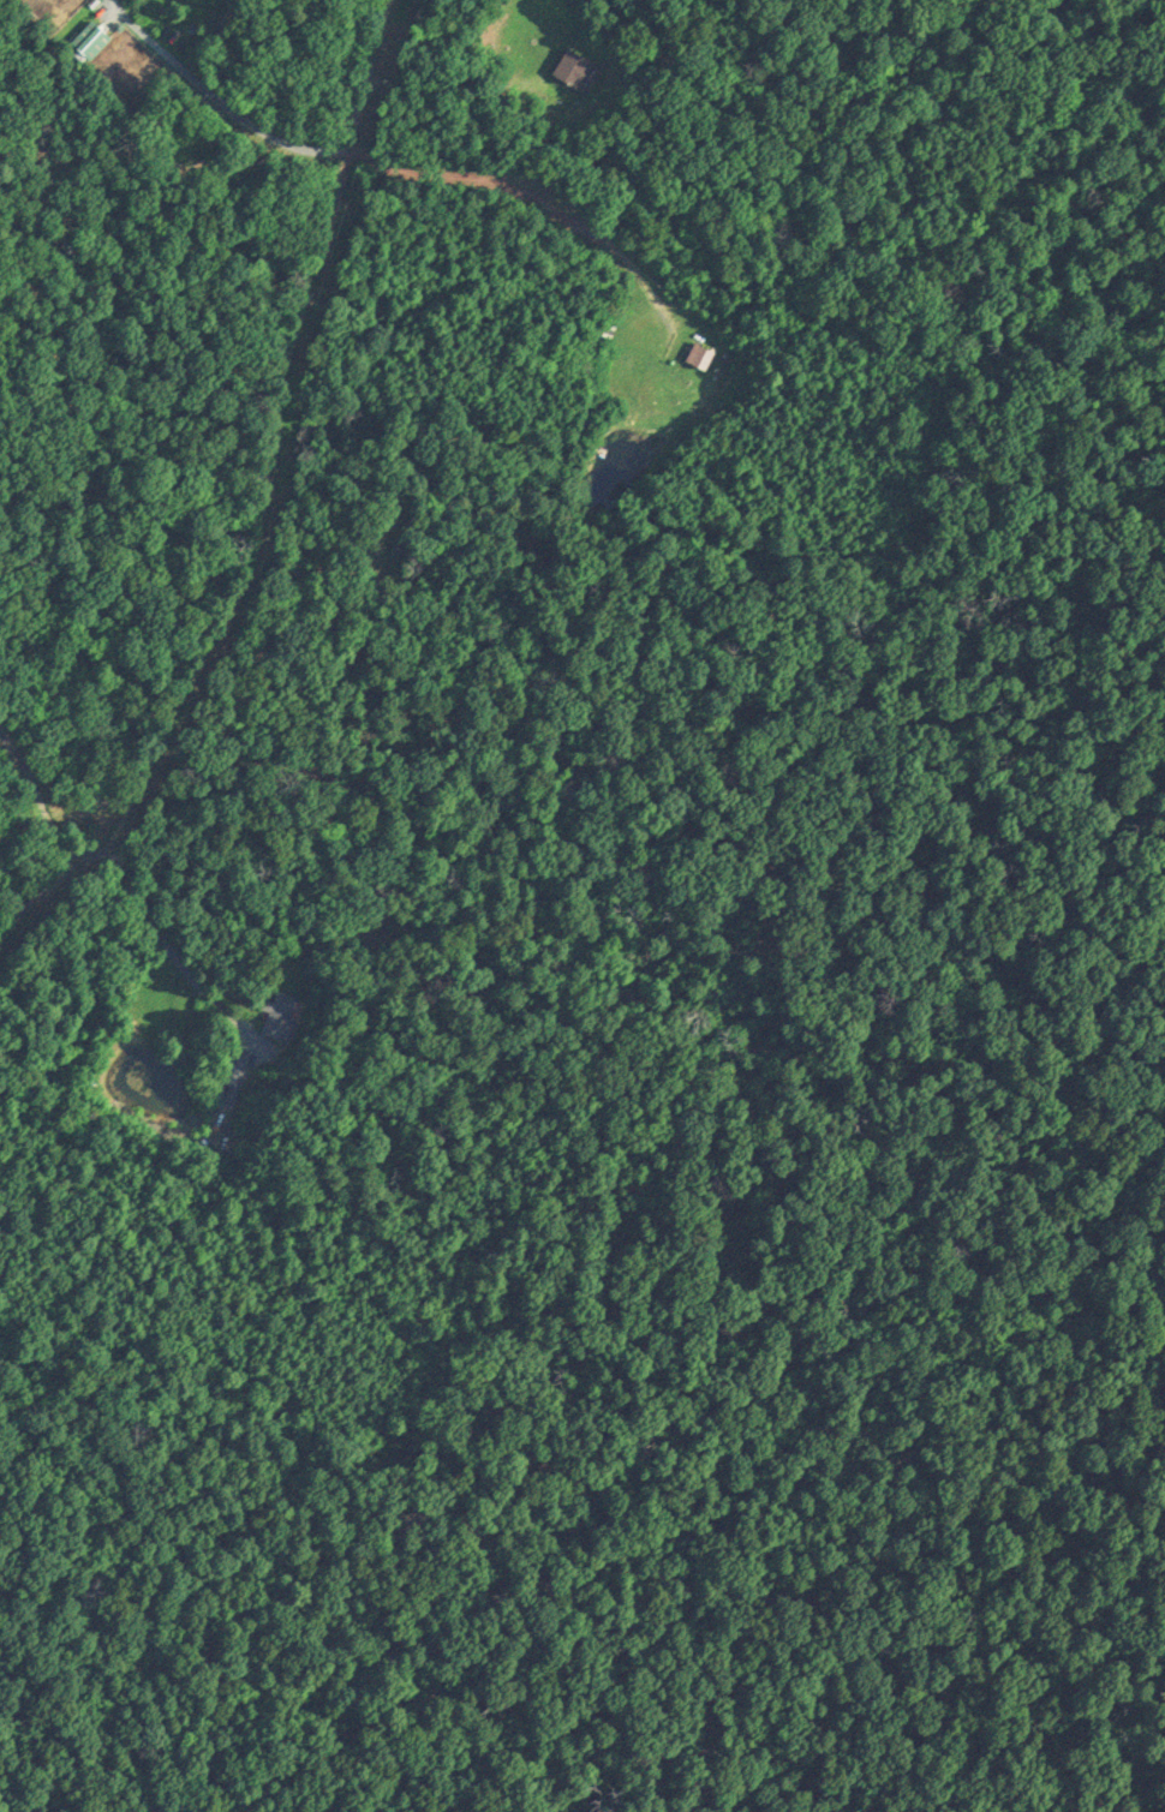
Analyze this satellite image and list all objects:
building: (90, 36)
building: (573, 67)
road: (357, 77)
road: (213, 97)
building: (699, 351)
road: (245, 512)
road: (26, 797)
road: (32, 878)
road: (143, 927)

